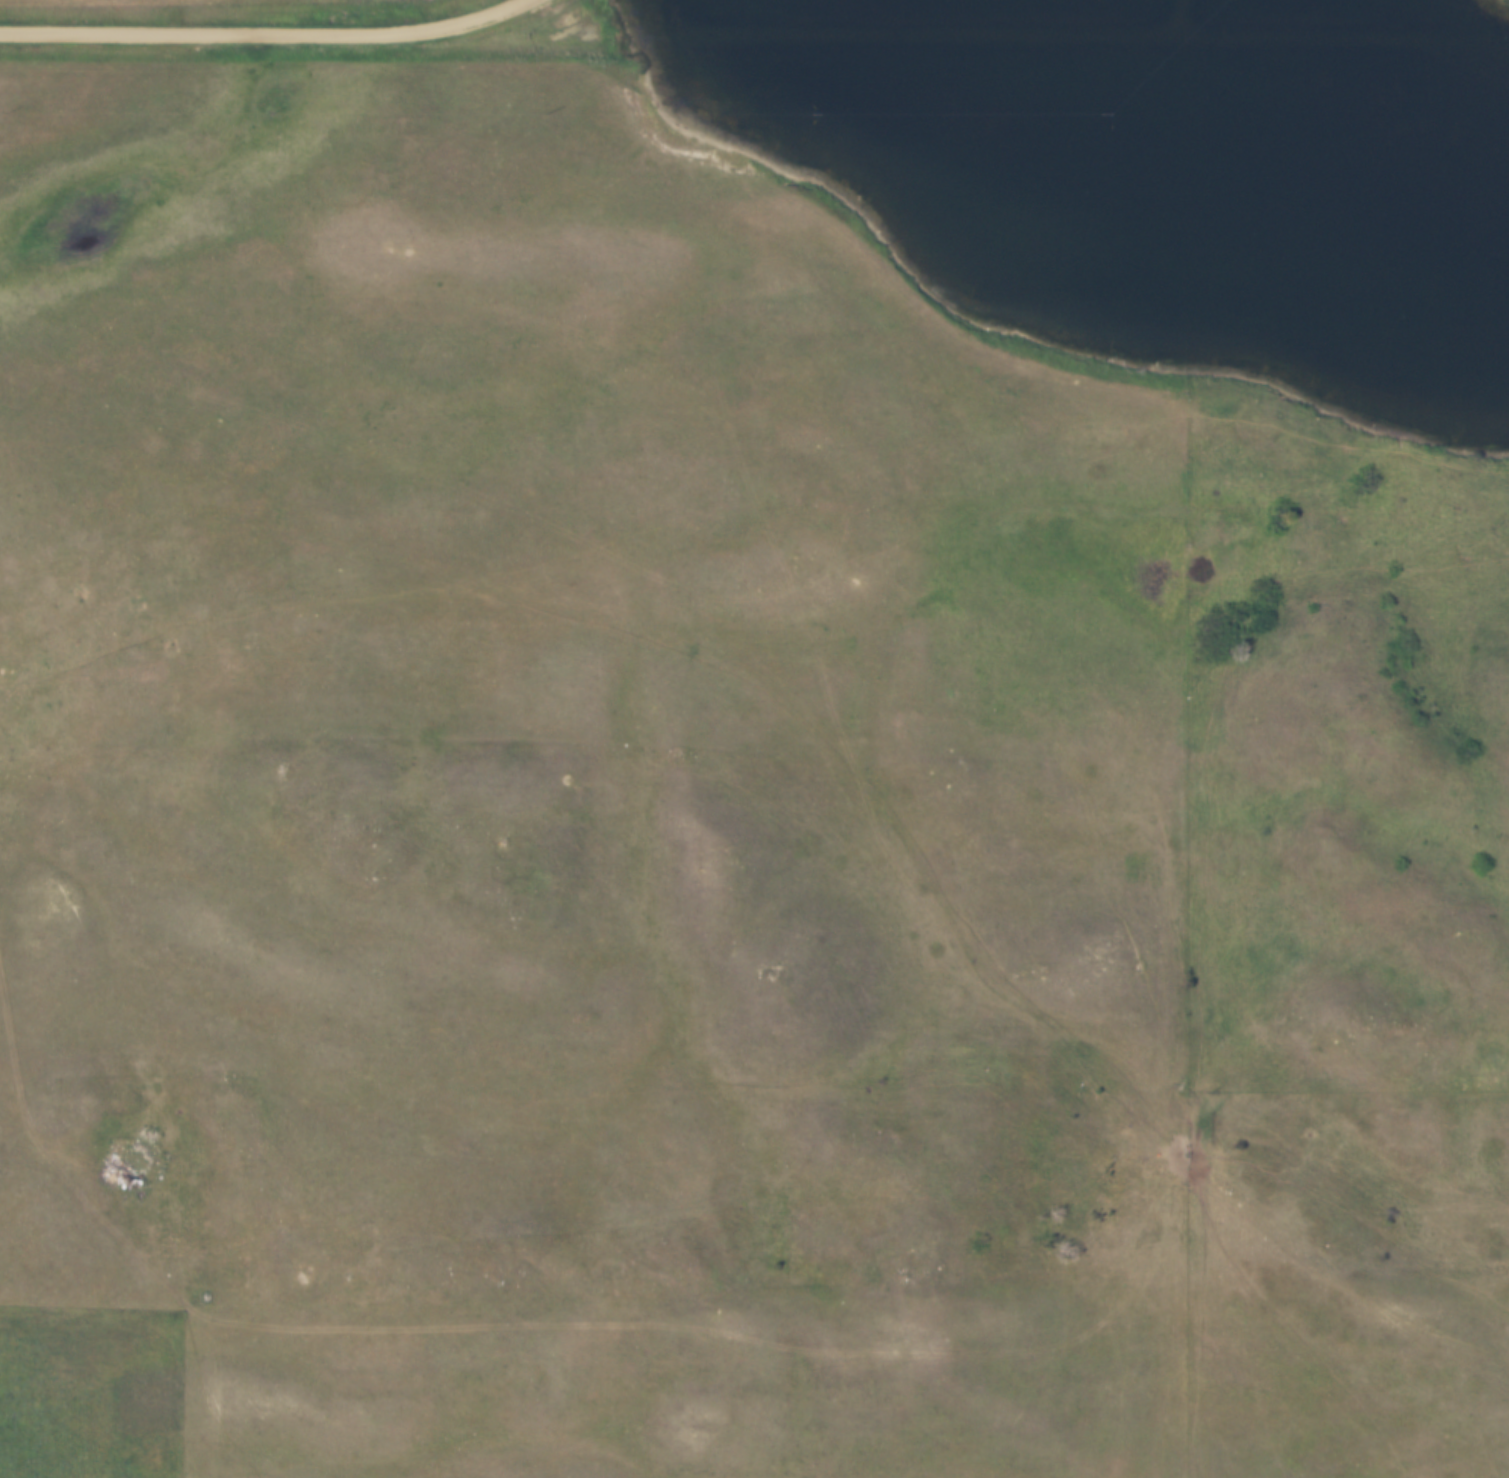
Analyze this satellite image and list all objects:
road: (265, 35)

